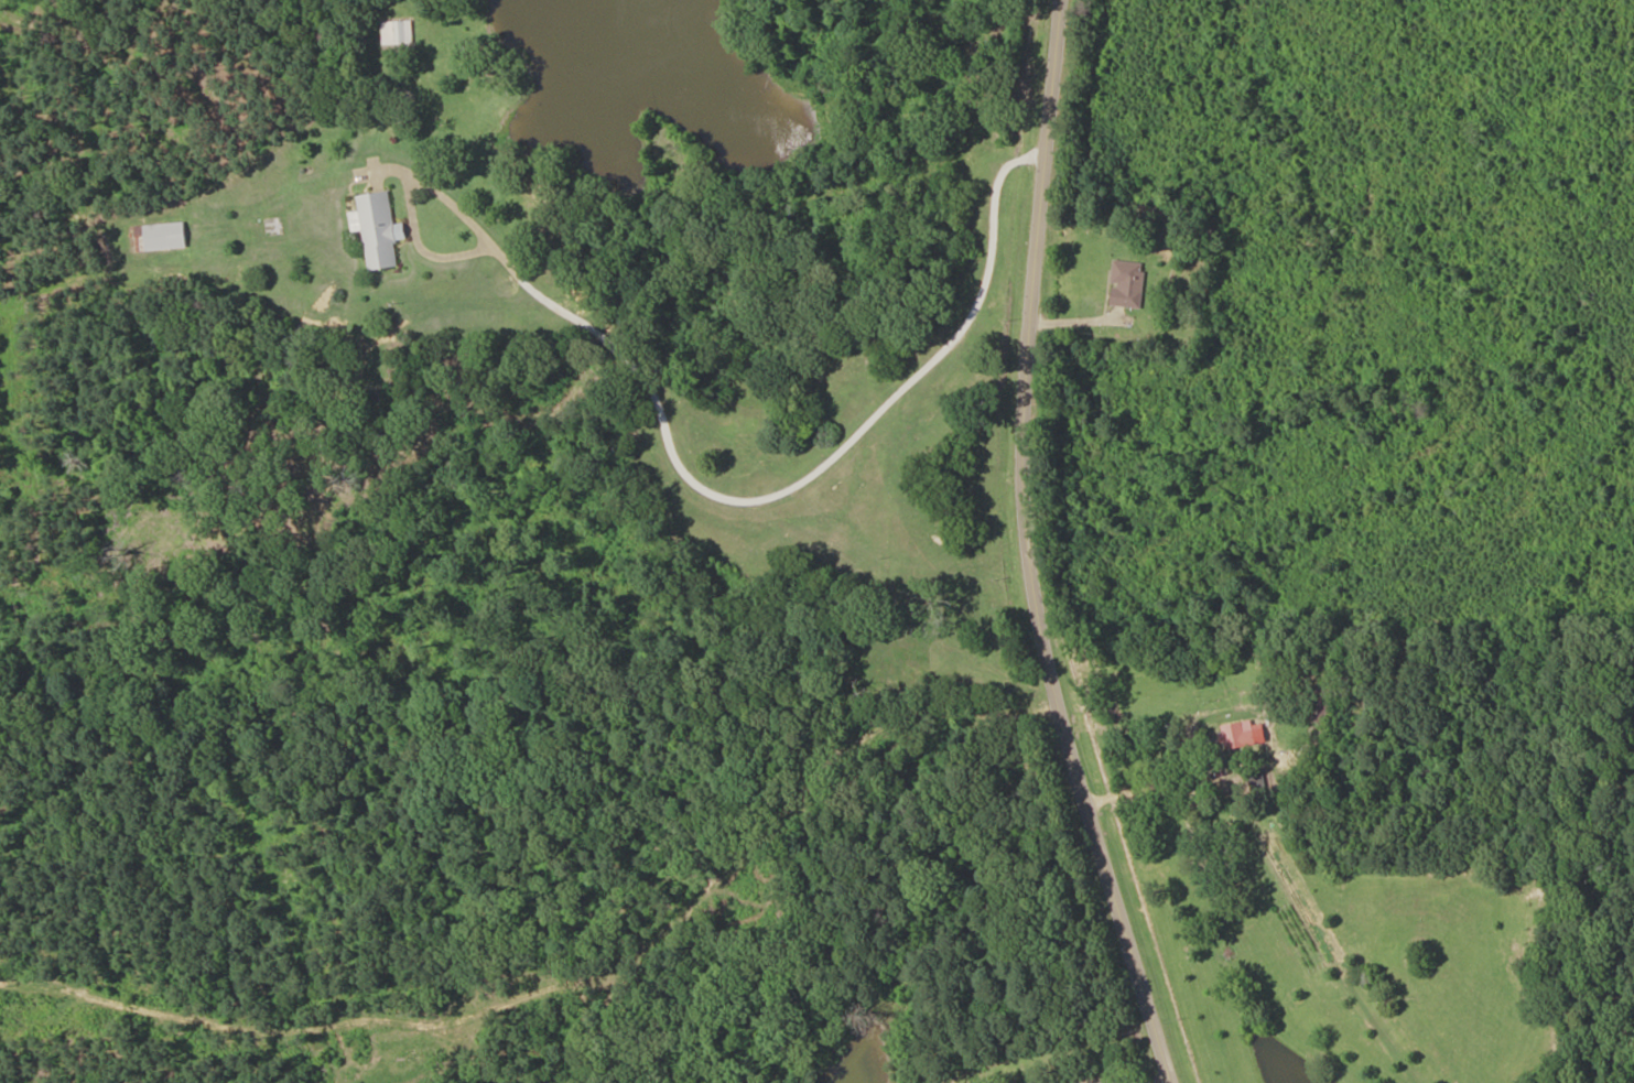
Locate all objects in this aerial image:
building: (398, 32)
building: (376, 229)
building: (160, 236)
building: (1128, 284)
road: (1041, 548)
building: (1324, 712)
building: (1238, 734)

